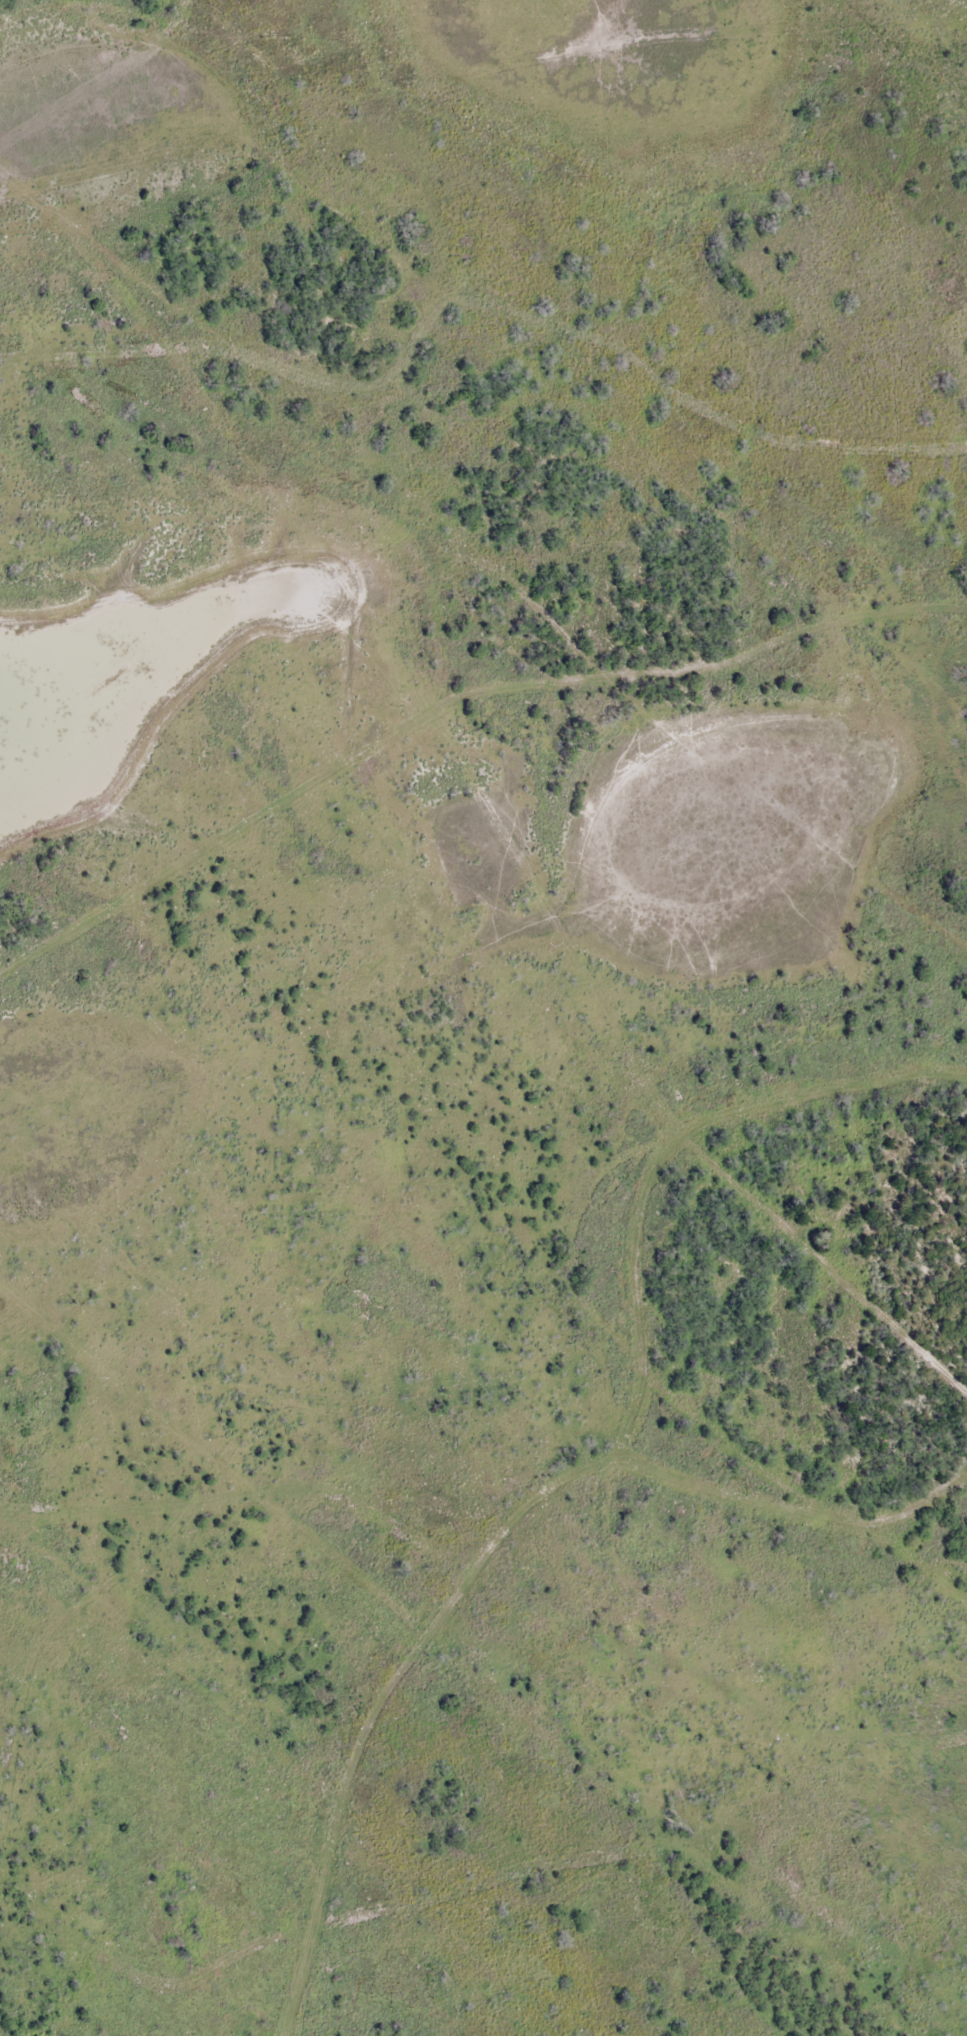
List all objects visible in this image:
road: (483, 1472)

